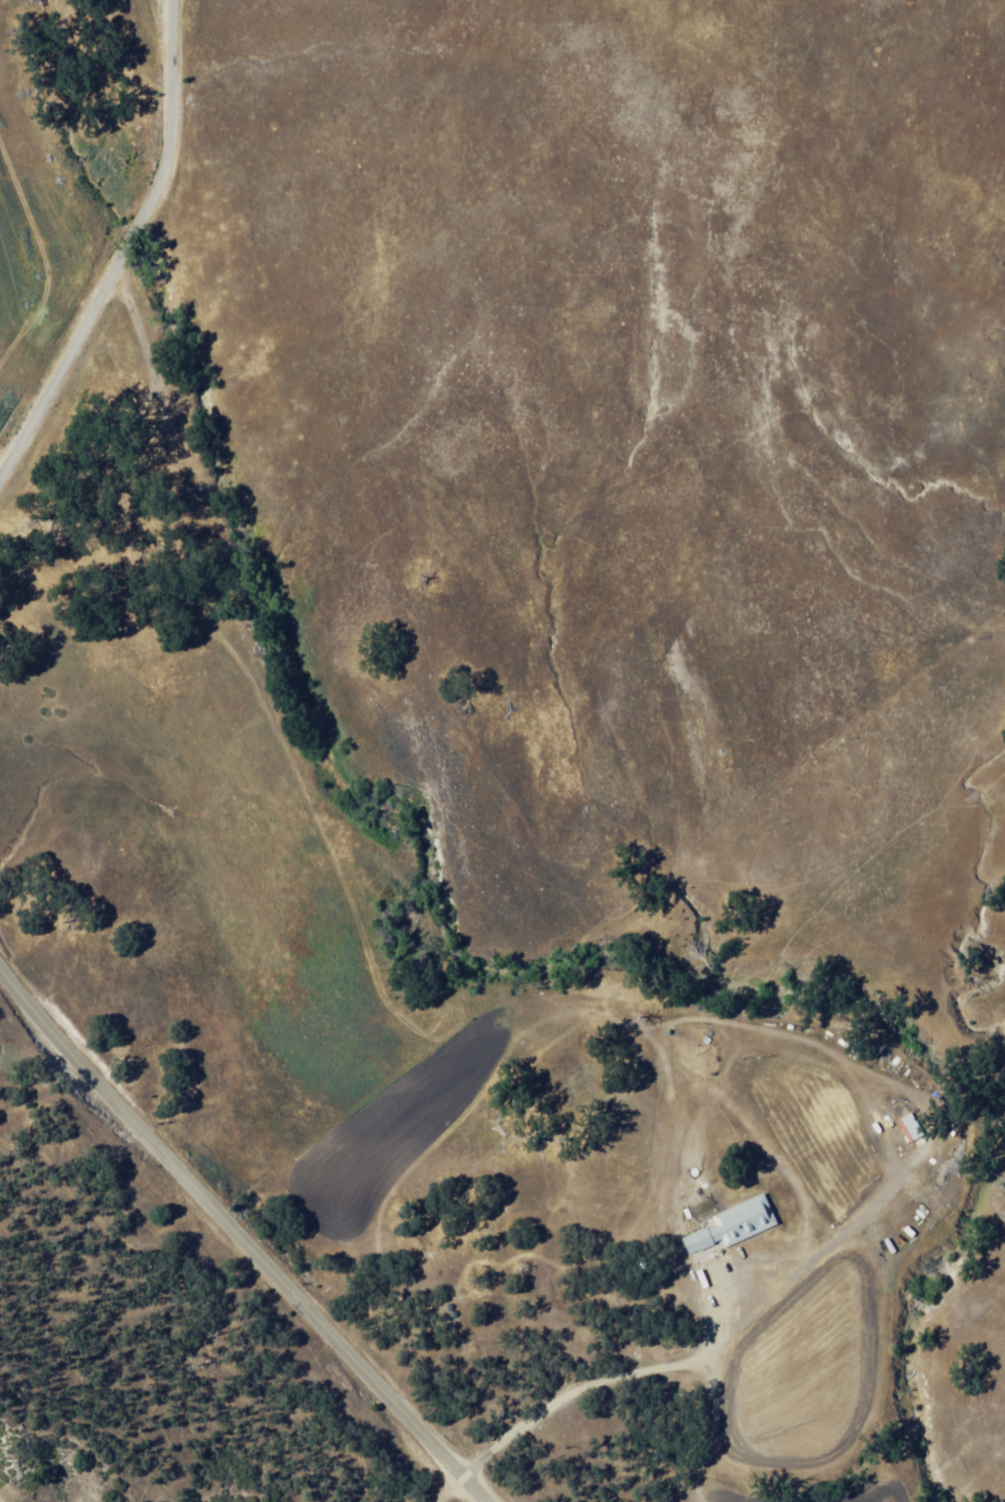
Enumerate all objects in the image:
road: (127, 249)
crop: (9, 289)
road: (239, 1231)
road: (450, 1491)

